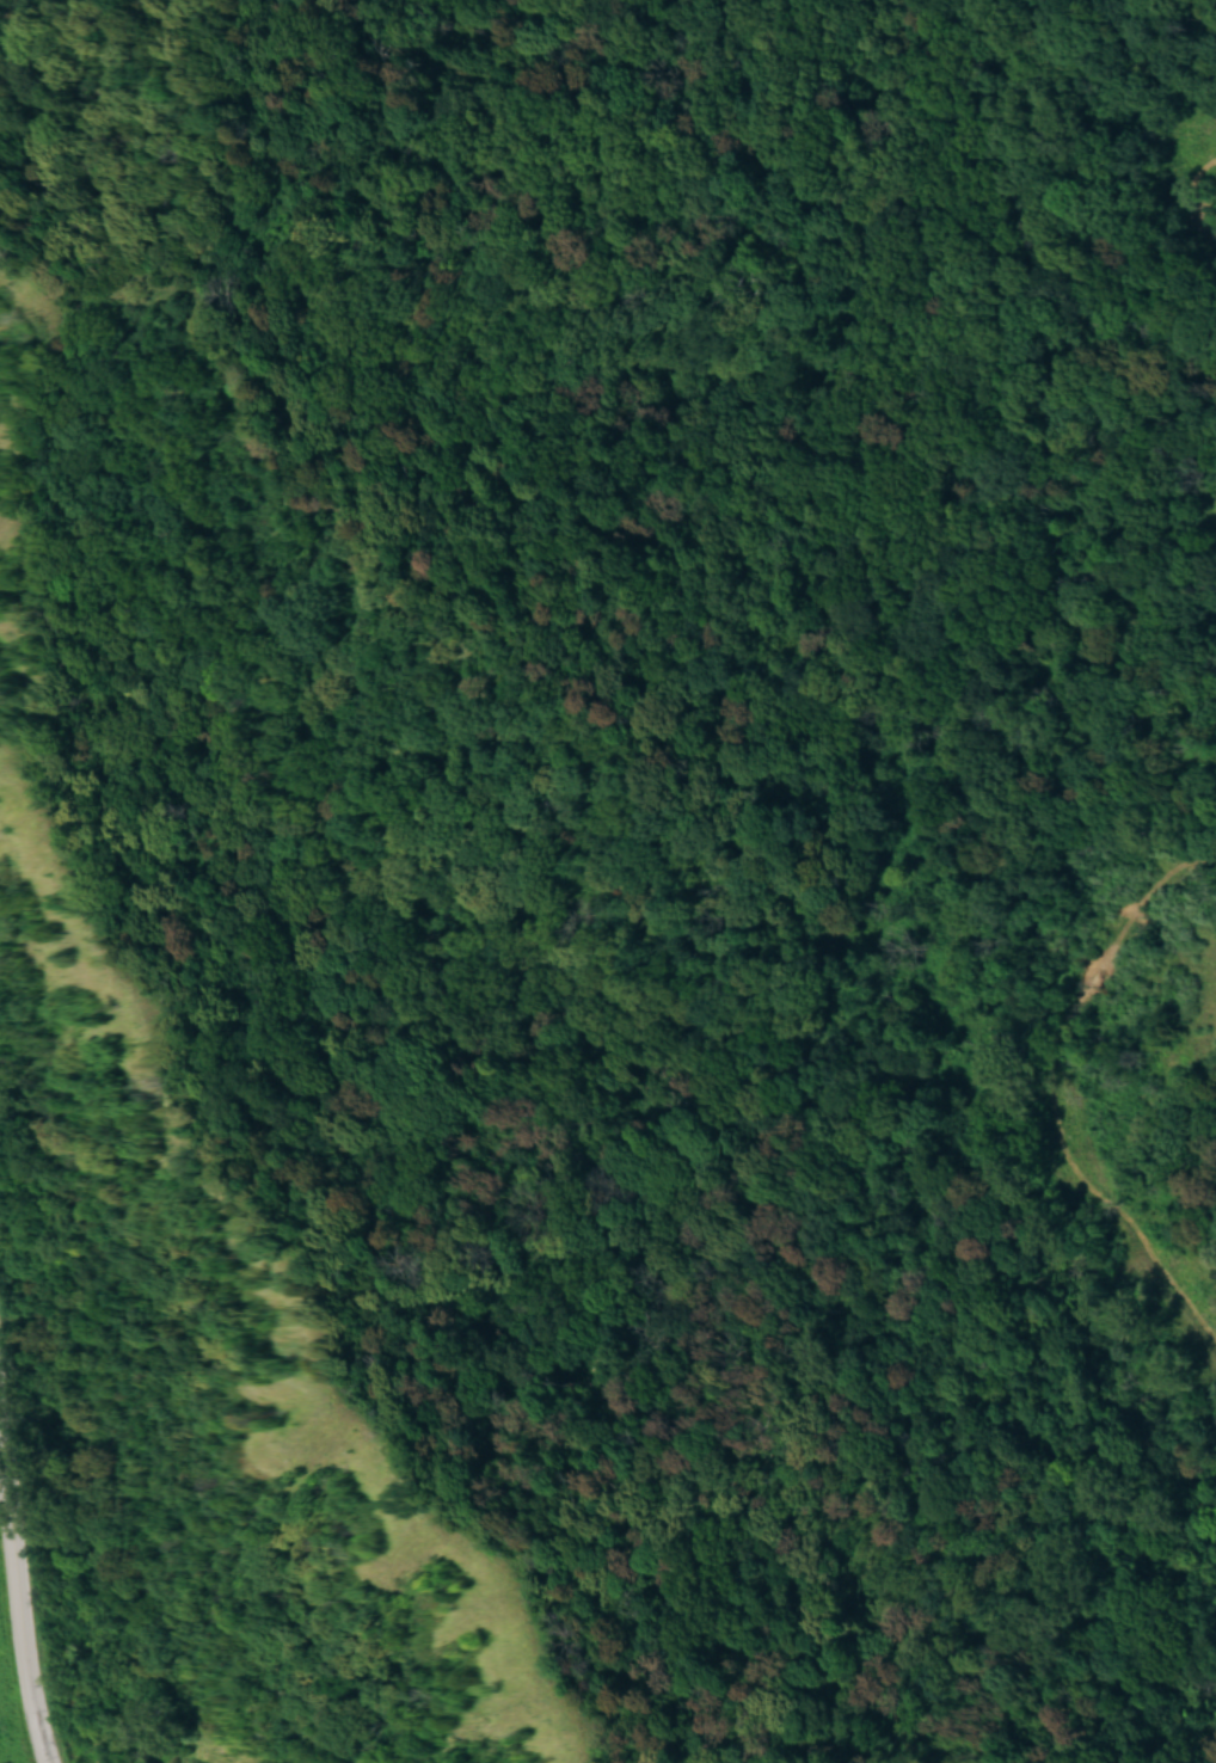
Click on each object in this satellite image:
road: (17, 1642)

